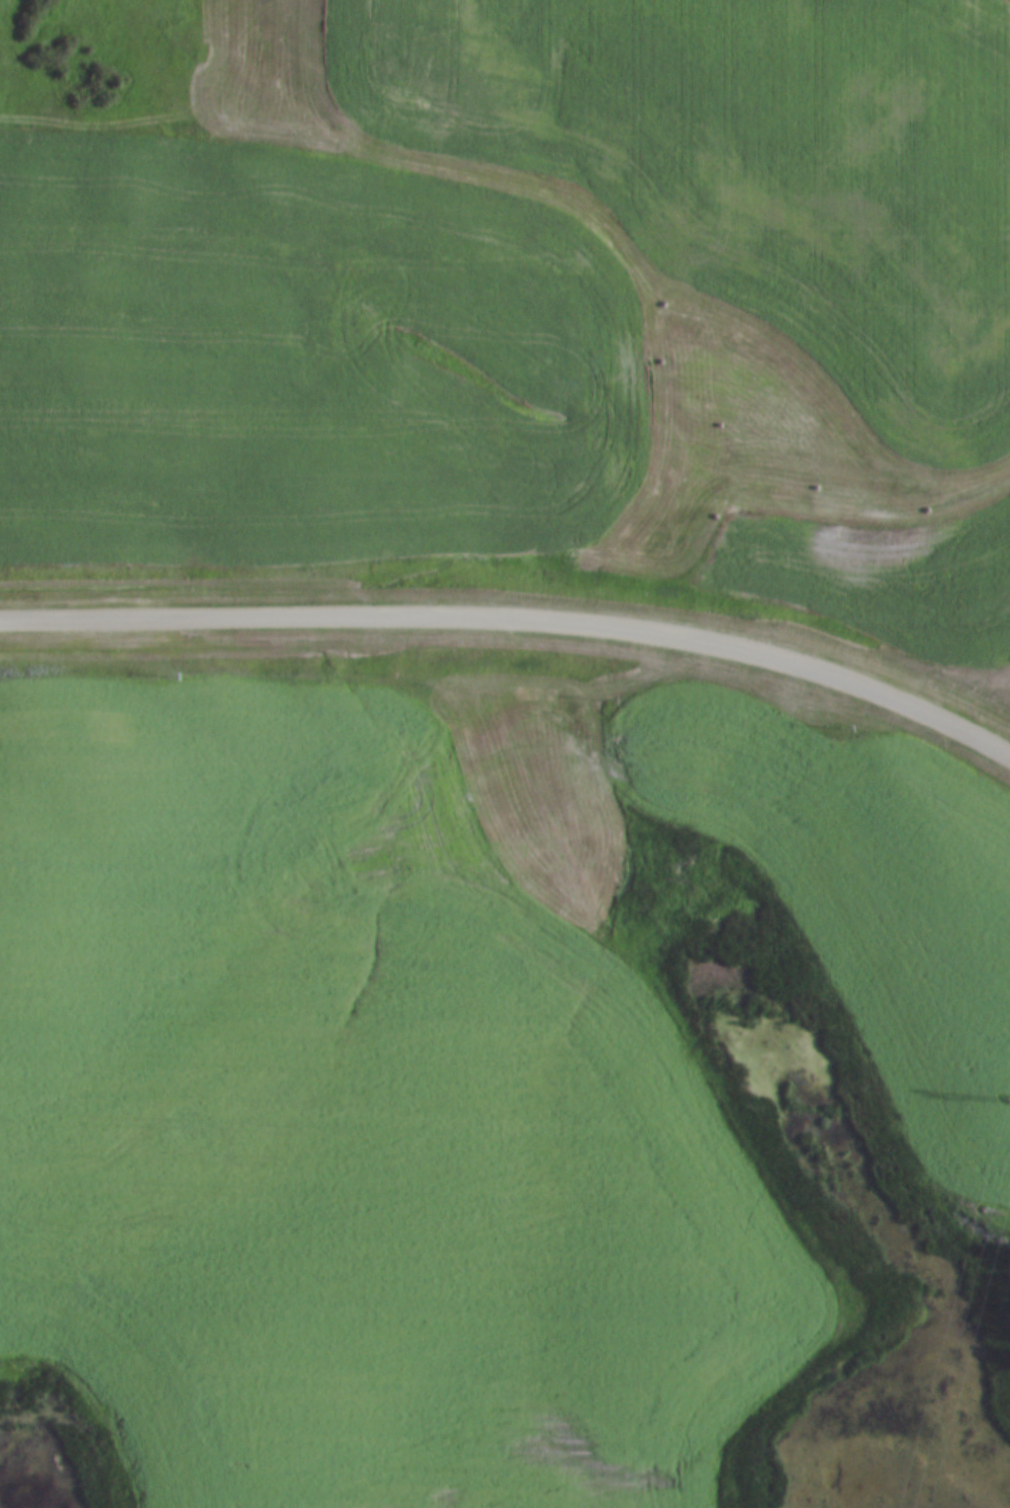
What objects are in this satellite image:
road: (518, 608)

